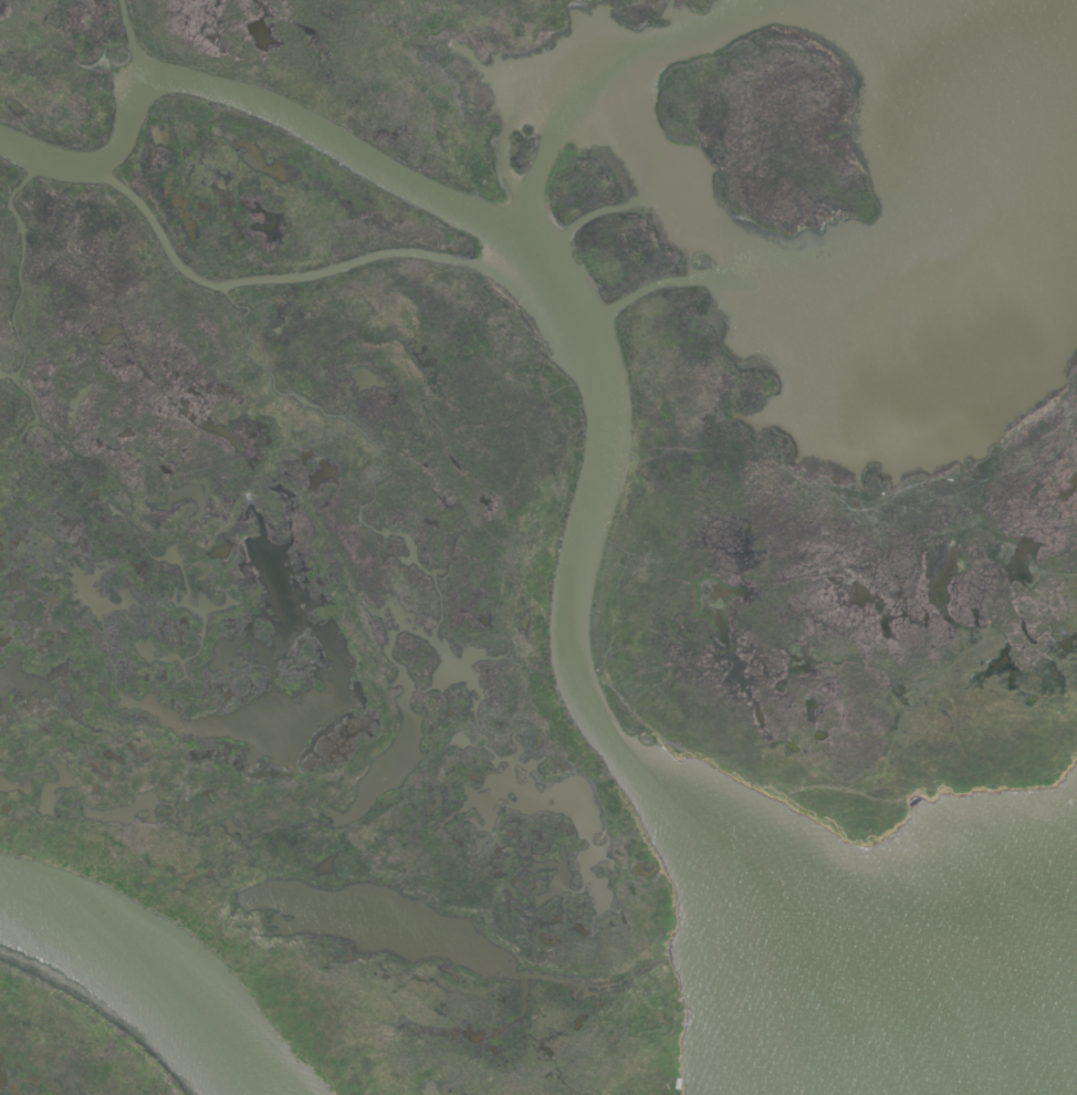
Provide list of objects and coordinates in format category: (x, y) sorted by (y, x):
river: (125, 1007)

